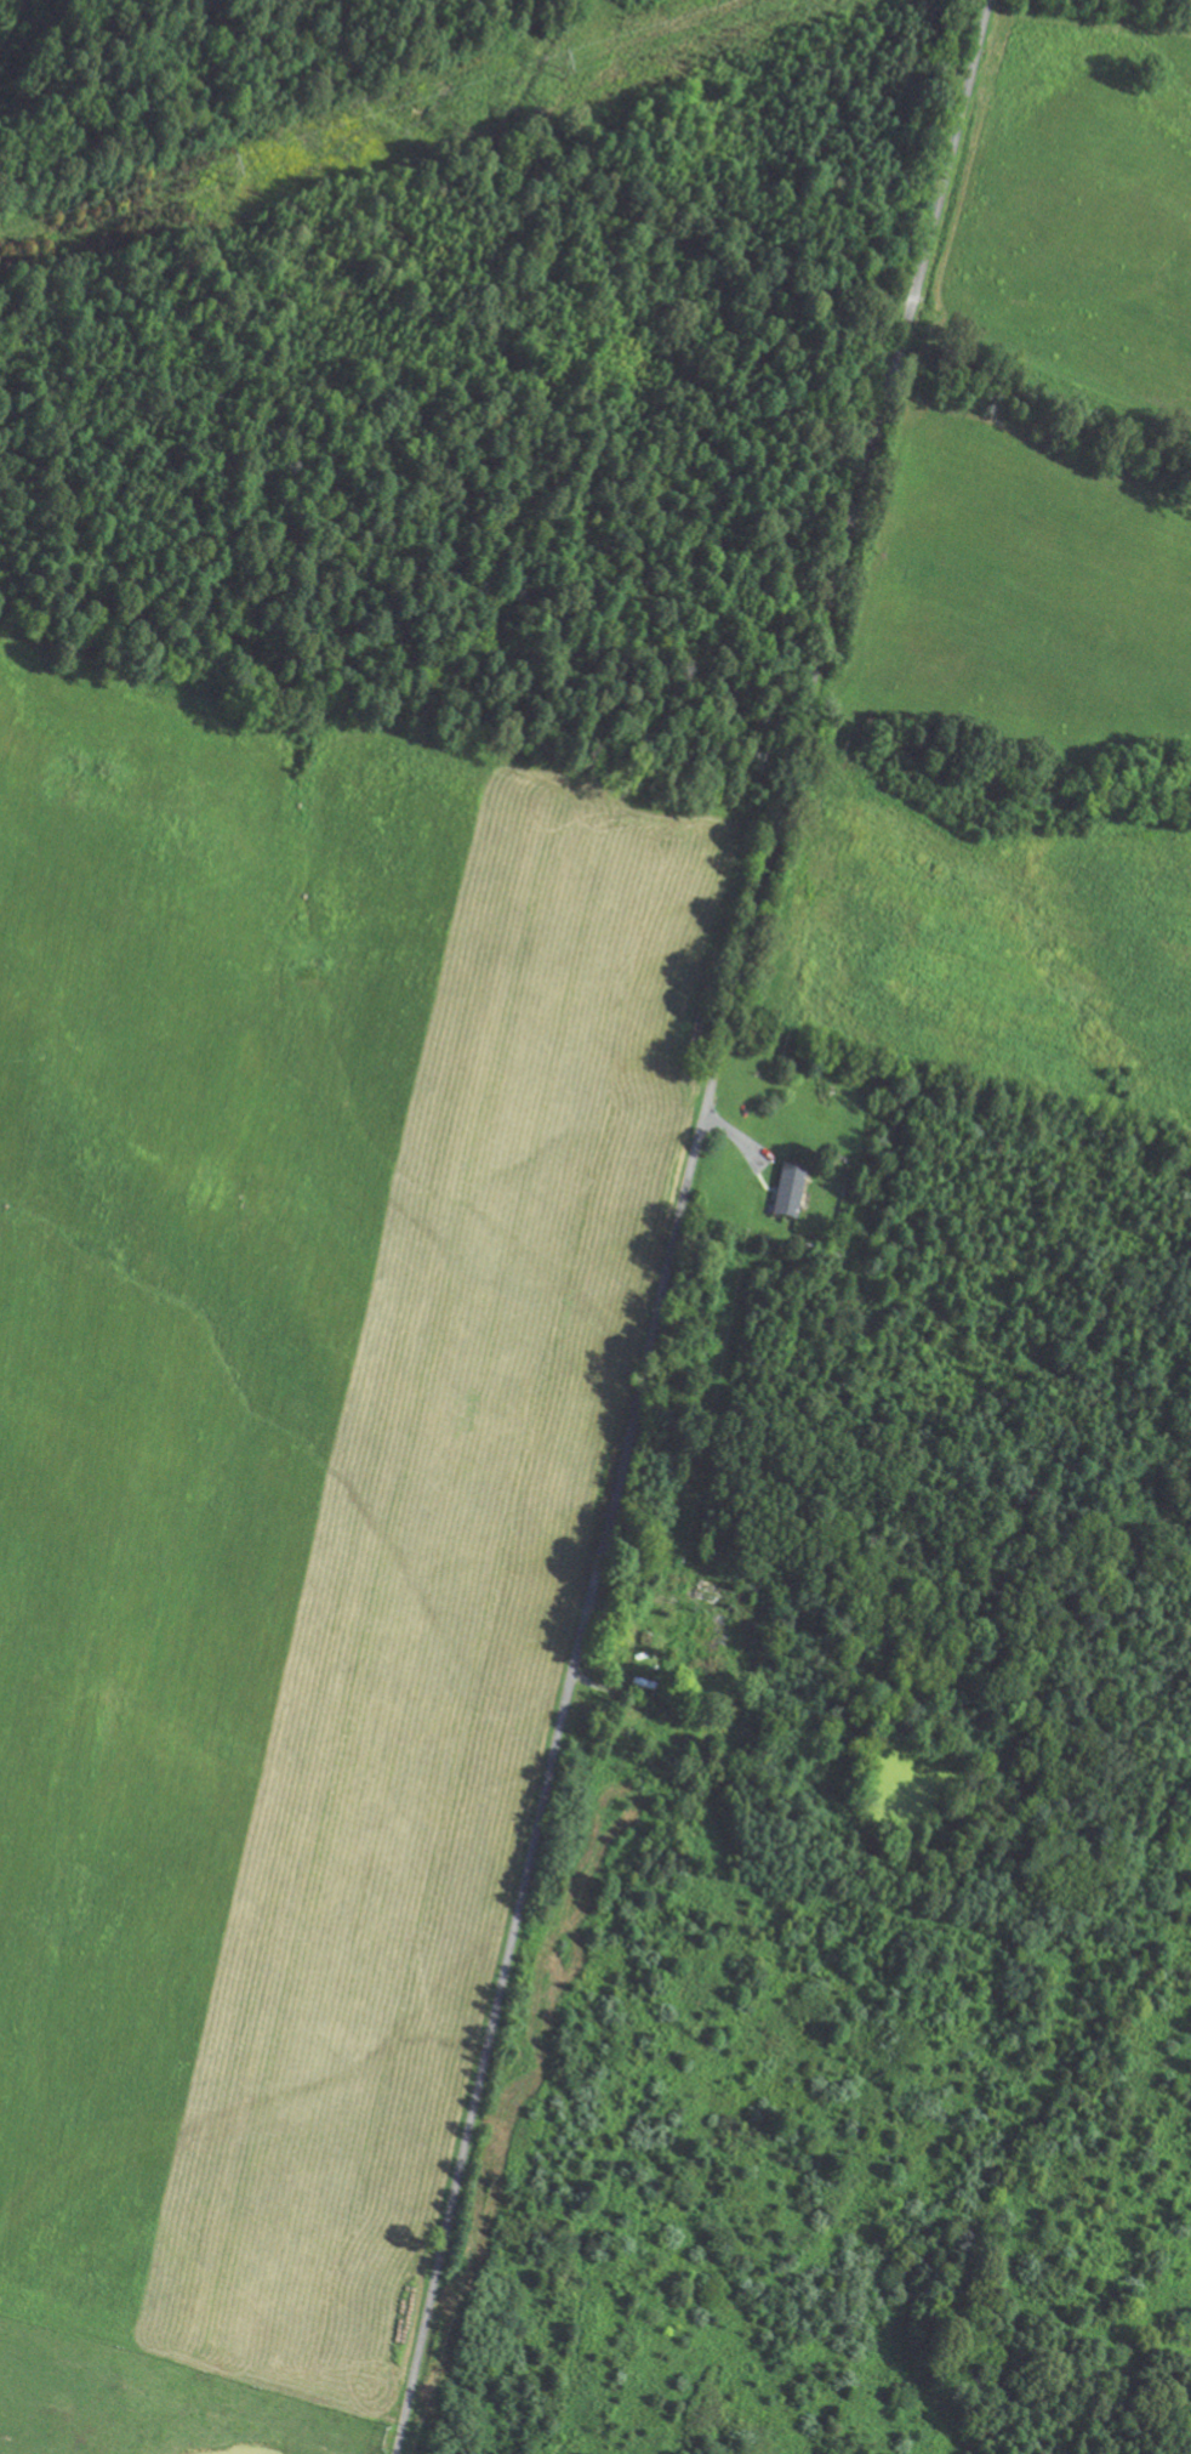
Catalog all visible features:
building: (788, 1193)
road: (678, 1223)
building: (708, 1595)
building: (711, 1636)

